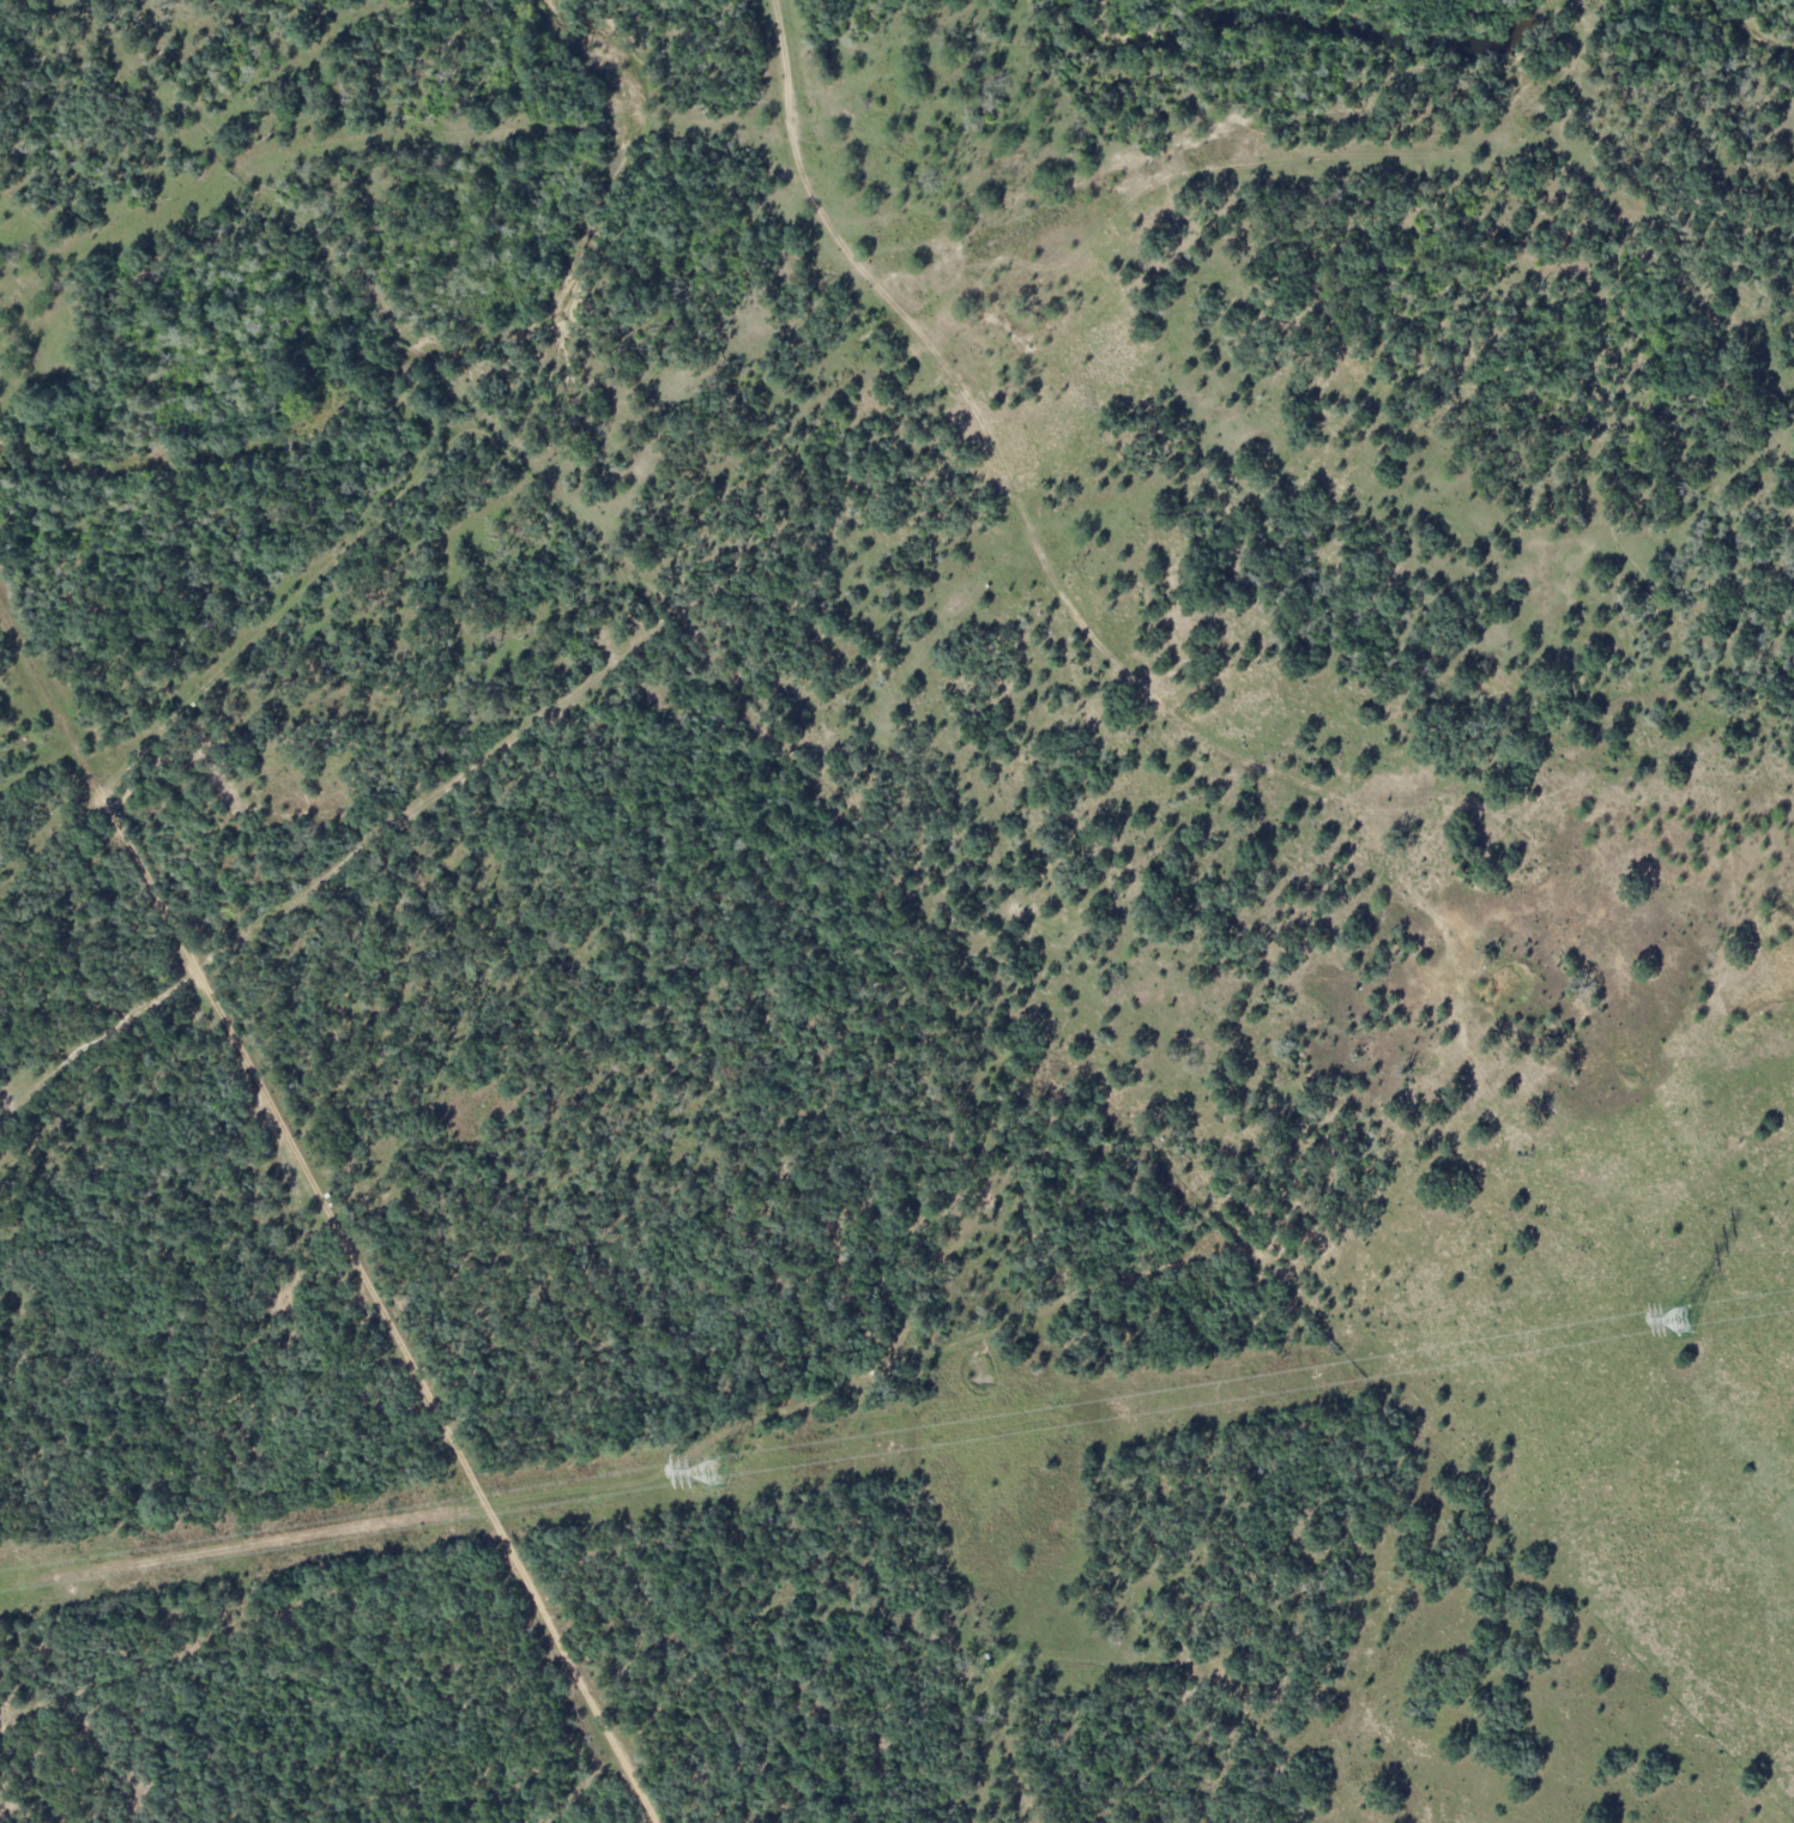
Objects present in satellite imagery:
road: (1016, 525)
road: (316, 1314)
power tower: (1684, 1320)
power tower: (712, 1471)

